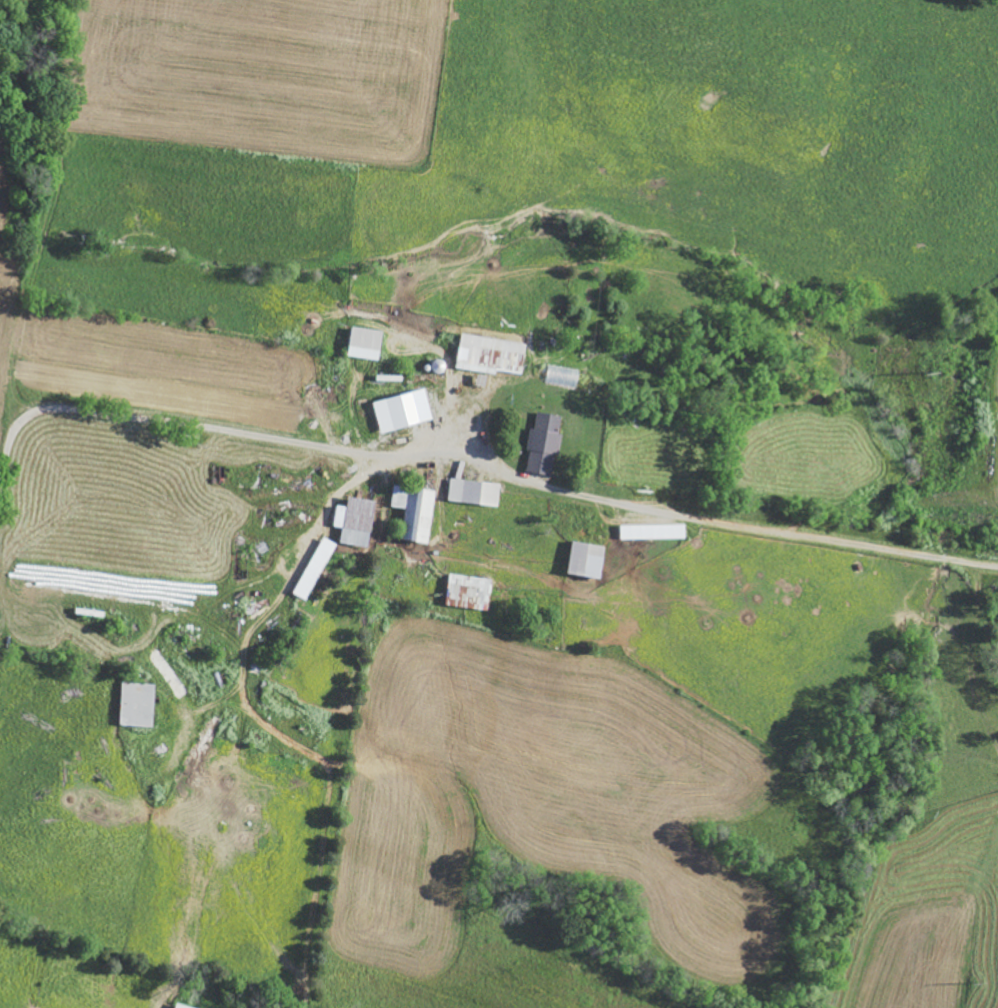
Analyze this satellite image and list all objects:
building: (366, 342)
building: (492, 354)
building: (406, 410)
road: (172, 423)
building: (545, 443)
building: (474, 491)
building: (417, 510)
building: (357, 521)
building: (655, 531)
building: (589, 559)
building: (316, 568)
building: (471, 591)
building: (183, 1006)

